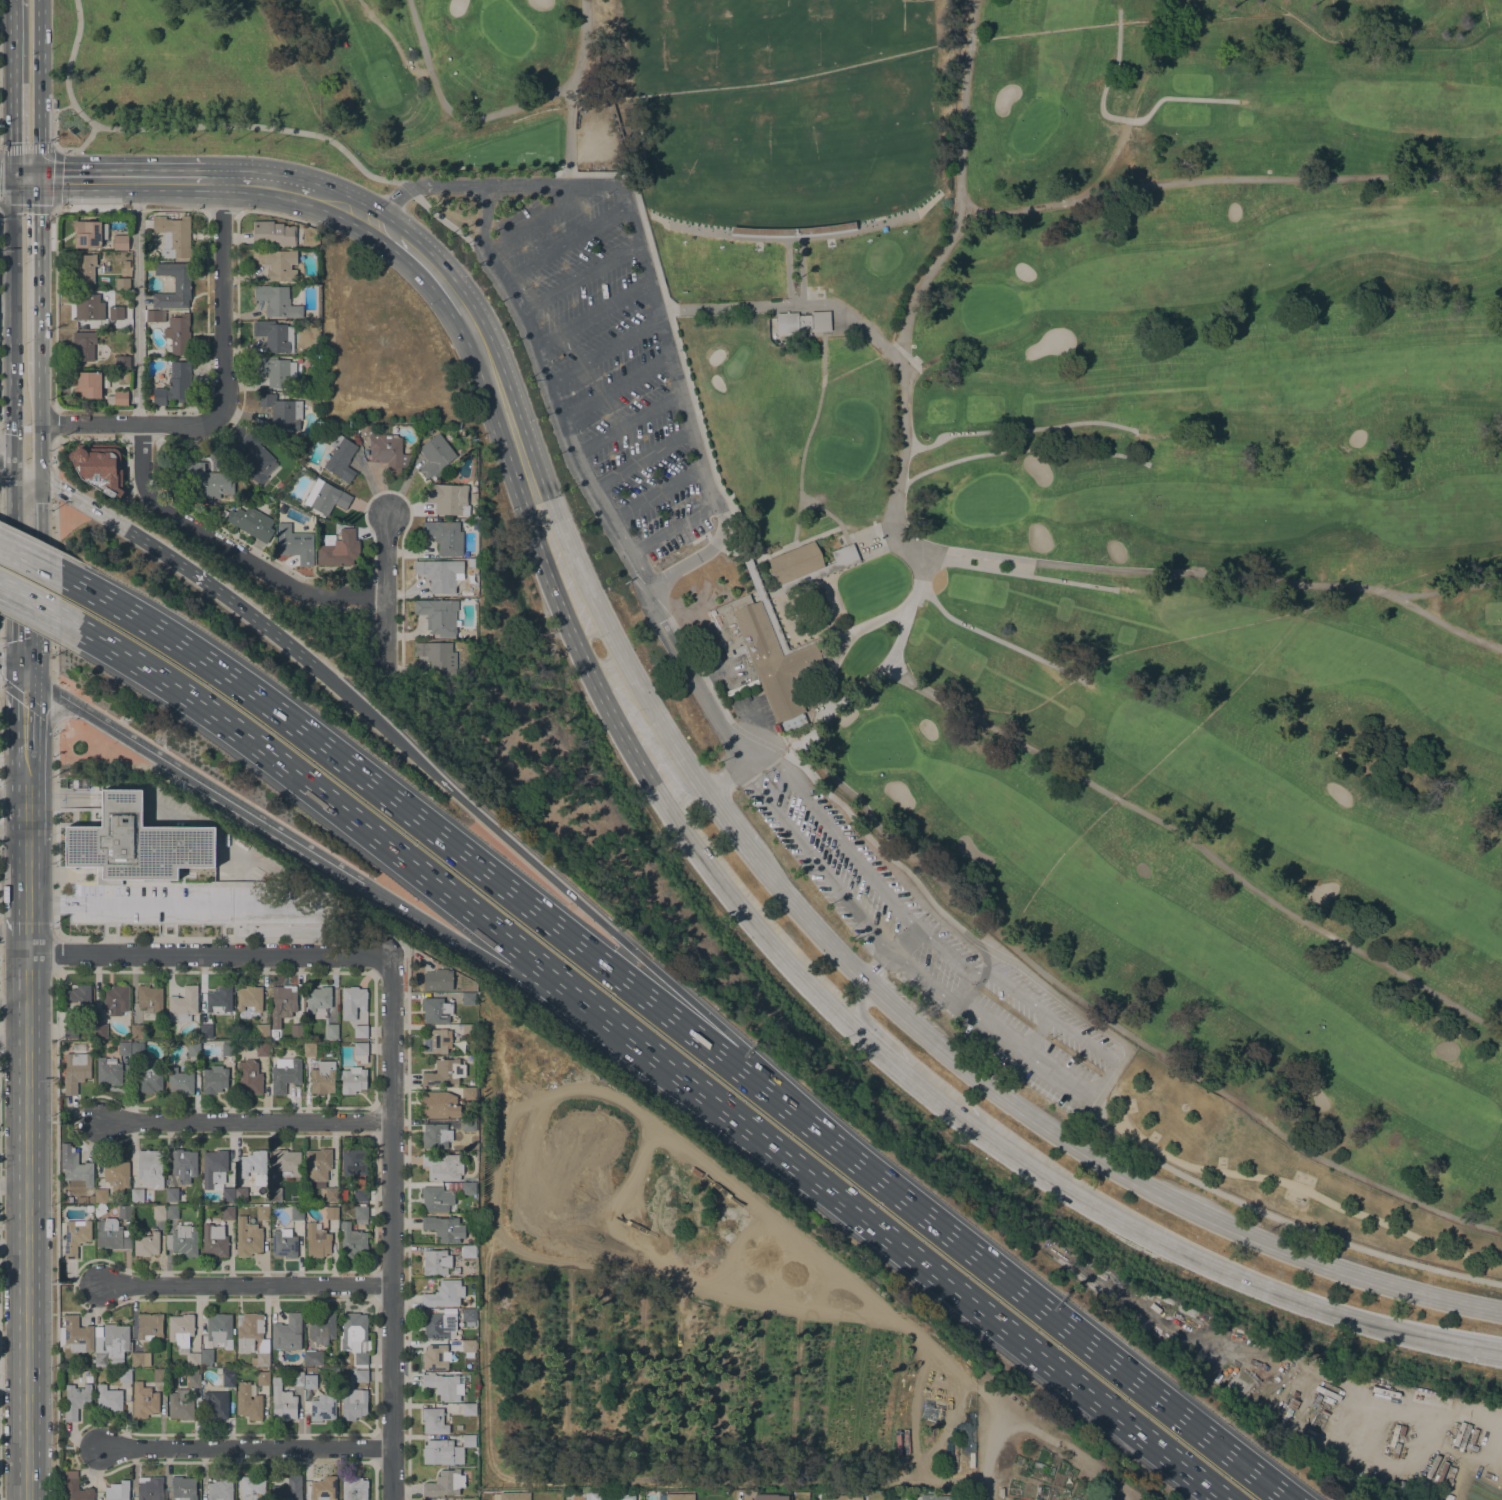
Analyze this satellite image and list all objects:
park: (506, 27)
road: (396, 46)
road: (582, 46)
park: (428, 69)
park: (189, 84)
road: (11, 88)
road: (38, 88)
road: (452, 112)
park: (784, 112)
road: (1120, 117)
road: (191, 125)
road: (568, 137)
road: (54, 145)
road: (27, 149)
road: (6, 178)
traffic signals: (12, 178)
road: (26, 178)
traffic signals: (40, 178)
road: (123, 179)
road: (1228, 179)
road: (260, 183)
road: (527, 184)
road: (446, 185)
road: (959, 186)
road: (54, 204)
road: (391, 204)
road: (222, 209)
road: (355, 210)
road: (275, 213)
road: (438, 217)
park: (1226, 225)
building: (792, 230)
road: (54, 232)
building: (89, 233)
building: (272, 234)
building: (173, 235)
road: (791, 239)
building: (120, 242)
building: (278, 264)
building: (84, 268)
road: (433, 270)
road: (800, 270)
road: (787, 271)
road: (12, 274)
road: (40, 274)
building: (122, 282)
building: (182, 284)
road: (222, 297)
road: (1501, 298)
road: (136, 301)
building: (277, 301)
road: (793, 303)
building: (88, 306)
building: (116, 312)
building: (155, 316)
building: (802, 321)
building: (86, 325)
building: (178, 333)
building: (275, 336)
road: (676, 339)
building: (84, 346)
building: (122, 361)
parking lot: (607, 361)
building: (276, 370)
road: (675, 375)
road: (205, 383)
building: (87, 384)
building: (174, 384)
road: (501, 396)
building: (118, 398)
building: (282, 410)
road: (547, 410)
road: (12, 423)
road: (39, 423)
road: (54, 423)
road: (129, 423)
road: (1018, 429)
road: (1019, 449)
building: (387, 452)
road: (53, 455)
building: (256, 456)
building: (435, 456)
building: (341, 458)
road: (899, 463)
building: (100, 466)
road: (13, 467)
building: (183, 470)
traffic signals: (26, 473)
building: (209, 481)
road: (589, 482)
road: (53, 486)
road: (65, 494)
building: (325, 497)
building: (448, 498)
building: (319, 519)
building: (251, 523)
road: (877, 530)
building: (445, 537)
road: (137, 538)
building: (296, 545)
road: (721, 546)
road: (227, 547)
road: (869, 548)
building: (339, 550)
road: (386, 553)
road: (30, 559)
building: (807, 562)
road: (1018, 572)
road: (1216, 573)
road: (26, 574)
building: (438, 575)
park: (981, 585)
road: (53, 589)
road: (1448, 589)
road: (649, 595)
road: (35, 605)
road: (244, 610)
building: (437, 615)
road: (771, 620)
road: (862, 625)
road: (385, 630)
road: (837, 633)
road: (995, 639)
road: (613, 640)
building: (768, 651)
building: (437, 655)
road: (888, 659)
road: (13, 669)
traffic signals: (26, 676)
road: (823, 686)
road: (26, 712)
road: (45, 714)
road: (793, 742)
park: (880, 744)
road: (27, 769)
park: (1221, 769)
road: (649, 773)
road: (725, 775)
road: (193, 780)
building: (74, 783)
road: (13, 789)
road: (26, 817)
road: (725, 824)
road: (424, 826)
road: (13, 829)
road: (55, 830)
building: (135, 843)
road: (1196, 845)
road: (551, 877)
traffic signals: (363, 883)
road: (72, 897)
road: (26, 899)
road: (40, 903)
road: (199, 905)
road: (72, 909)
building: (294, 918)
road: (13, 925)
road: (807, 925)
road: (196, 938)
road: (906, 941)
parking lot: (934, 951)
road: (206, 955)
road: (484, 955)
road: (876, 968)
building: (437, 980)
road: (961, 988)
building: (150, 997)
building: (249, 998)
building: (468, 998)
building: (77, 999)
building: (115, 1000)
building: (218, 1000)
building: (318, 1001)
building: (353, 1001)
road: (13, 1003)
road: (859, 1004)
building: (183, 1005)
building: (282, 1005)
building: (436, 1009)
road: (1076, 1010)
road: (899, 1016)
road: (1119, 1028)
building: (468, 1029)
building: (206, 1030)
building: (297, 1030)
building: (331, 1030)
building: (71, 1031)
building: (101, 1031)
building: (137, 1031)
building: (262, 1031)
building: (360, 1031)
road: (1035, 1034)
building: (436, 1040)
road: (13, 1041)
road: (874, 1044)
building: (124, 1048)
building: (193, 1049)
building: (228, 1049)
building: (310, 1049)
building: (262, 1050)
building: (360, 1051)
building: (137, 1052)
road: (654, 1053)
building: (76, 1070)
building: (108, 1071)
building: (444, 1072)
building: (284, 1074)
building: (149, 1076)
building: (248, 1076)
building: (323, 1077)
road: (1101, 1079)
building: (353, 1080)
building: (179, 1081)
building: (214, 1081)
building: (468, 1093)
road: (544, 1095)
building: (438, 1104)
road: (76, 1121)
road: (244, 1121)
building: (468, 1125)
building: (436, 1135)
building: (353, 1161)
building: (287, 1163)
building: (183, 1165)
building: (442, 1166)
building: (150, 1168)
building: (254, 1169)
building: (77, 1170)
building: (320, 1171)
building: (216, 1173)
building: (116, 1175)
road: (1288, 1183)
building: (468, 1188)
building: (240, 1193)
building: (171, 1194)
building: (275, 1194)
building: (141, 1195)
building: (359, 1195)
building: (102, 1196)
building: (436, 1198)
building: (99, 1209)
building: (124, 1211)
building: (158, 1212)
building: (172, 1212)
building: (297, 1212)
building: (228, 1213)
building: (262, 1213)
building: (331, 1213)
building: (360, 1214)
road: (1197, 1214)
road: (26, 1227)
building: (444, 1228)
road: (392, 1229)
road: (56, 1234)
building: (111, 1234)
building: (75, 1237)
building: (247, 1237)
building: (182, 1240)
building: (317, 1240)
building: (214, 1241)
building: (352, 1241)
building: (145, 1243)
building: (283, 1243)
road: (1168, 1243)
building: (468, 1251)
building: (436, 1262)
building: (454, 1270)
road: (77, 1283)
road: (245, 1284)
building: (444, 1294)
road: (1030, 1299)
building: (468, 1315)
building: (438, 1325)
building: (149, 1326)
building: (322, 1328)
building: (353, 1329)
building: (219, 1330)
building: (287, 1332)
building: (75, 1334)
building: (182, 1337)
building: (252, 1337)
building: (111, 1345)
building: (469, 1346)
road: (487, 1352)
road: (1484, 1352)
building: (206, 1357)
building: (435, 1357)
building: (313, 1358)
building: (360, 1358)
building: (140, 1359)
building: (124, 1375)
building: (159, 1375)
building: (361, 1376)
building: (193, 1378)
building: (263, 1378)
building: (297, 1378)
building: (228, 1379)
building: (310, 1381)
building: (442, 1385)
building: (1297, 1391)
building: (108, 1398)
building: (76, 1400)
building: (143, 1400)
building: (248, 1401)
building: (282, 1402)
building: (180, 1404)
building: (353, 1404)
building: (1292, 1404)
building: (214, 1405)
building: (321, 1407)
building: (469, 1409)
building: (433, 1420)
building: (1285, 1425)
building: (459, 1427)
road: (78, 1446)
road: (245, 1447)
building: (447, 1449)
road: (1073, 1450)
building: (475, 1452)
road: (989, 1454)
building: (444, 1483)
building: (75, 1488)
building: (149, 1488)
building: (183, 1488)
building: (323, 1488)
building: (354, 1488)
building: (220, 1489)
building: (252, 1489)
building: (288, 1489)
building: (117, 1491)
building: (1000, 1492)
building: (511, 1496)
building: (608, 1496)
building: (676, 1496)
building: (770, 1497)
building: (845, 1497)
building: (942, 1497)
building: (469, 1499)

